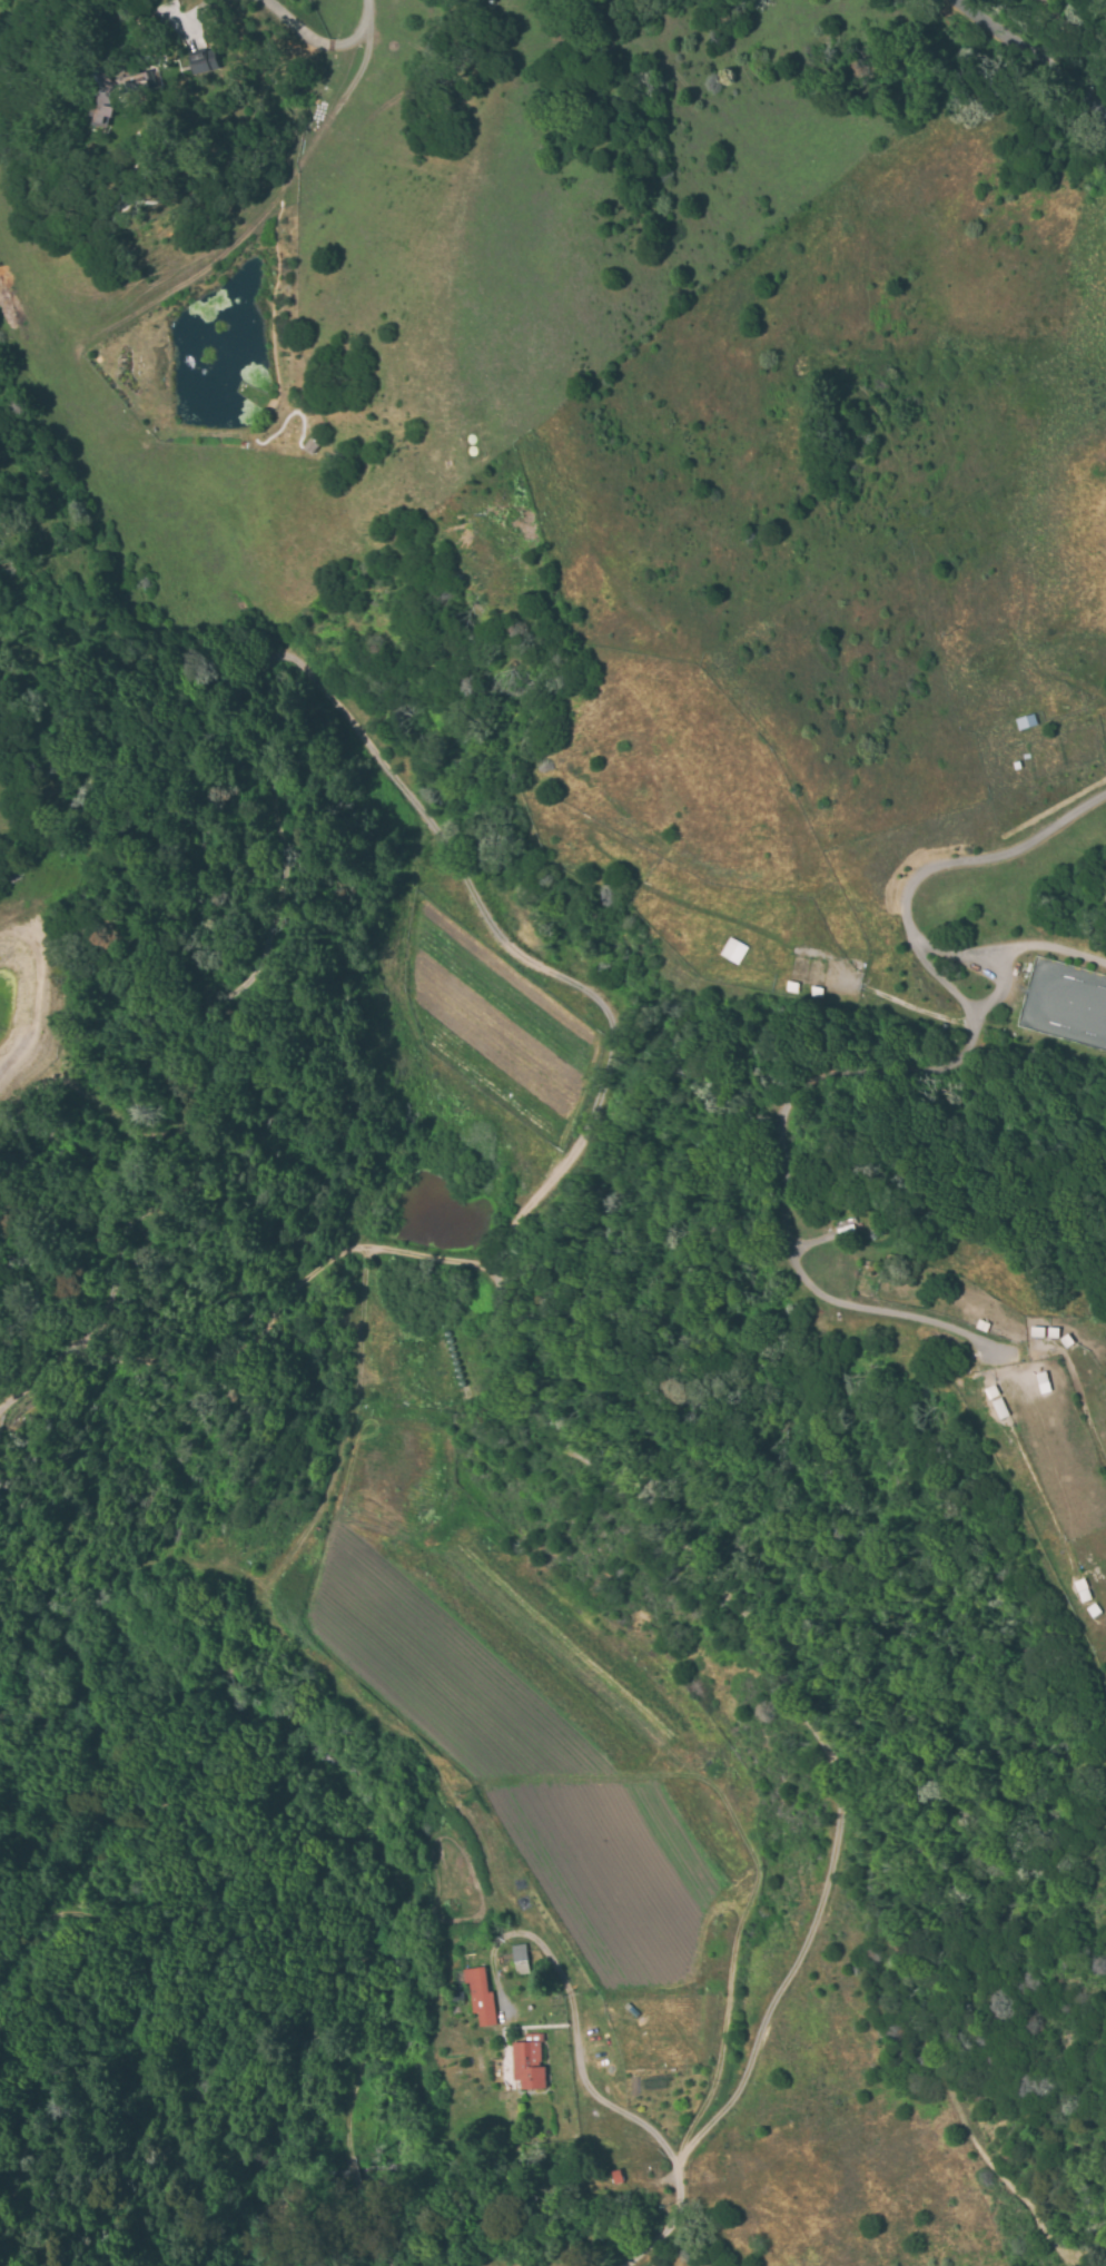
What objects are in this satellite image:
road: (1037, 53)
building: (204, 61)
building: (100, 114)
building: (1026, 722)
building: (732, 950)
building: (791, 987)
building: (814, 992)
building: (1053, 1332)
building: (990, 1391)
building: (999, 1408)
crop: (574, 1812)
building: (520, 1959)
building: (478, 1994)
building: (455, 1996)
building: (527, 2062)
building: (618, 2177)

